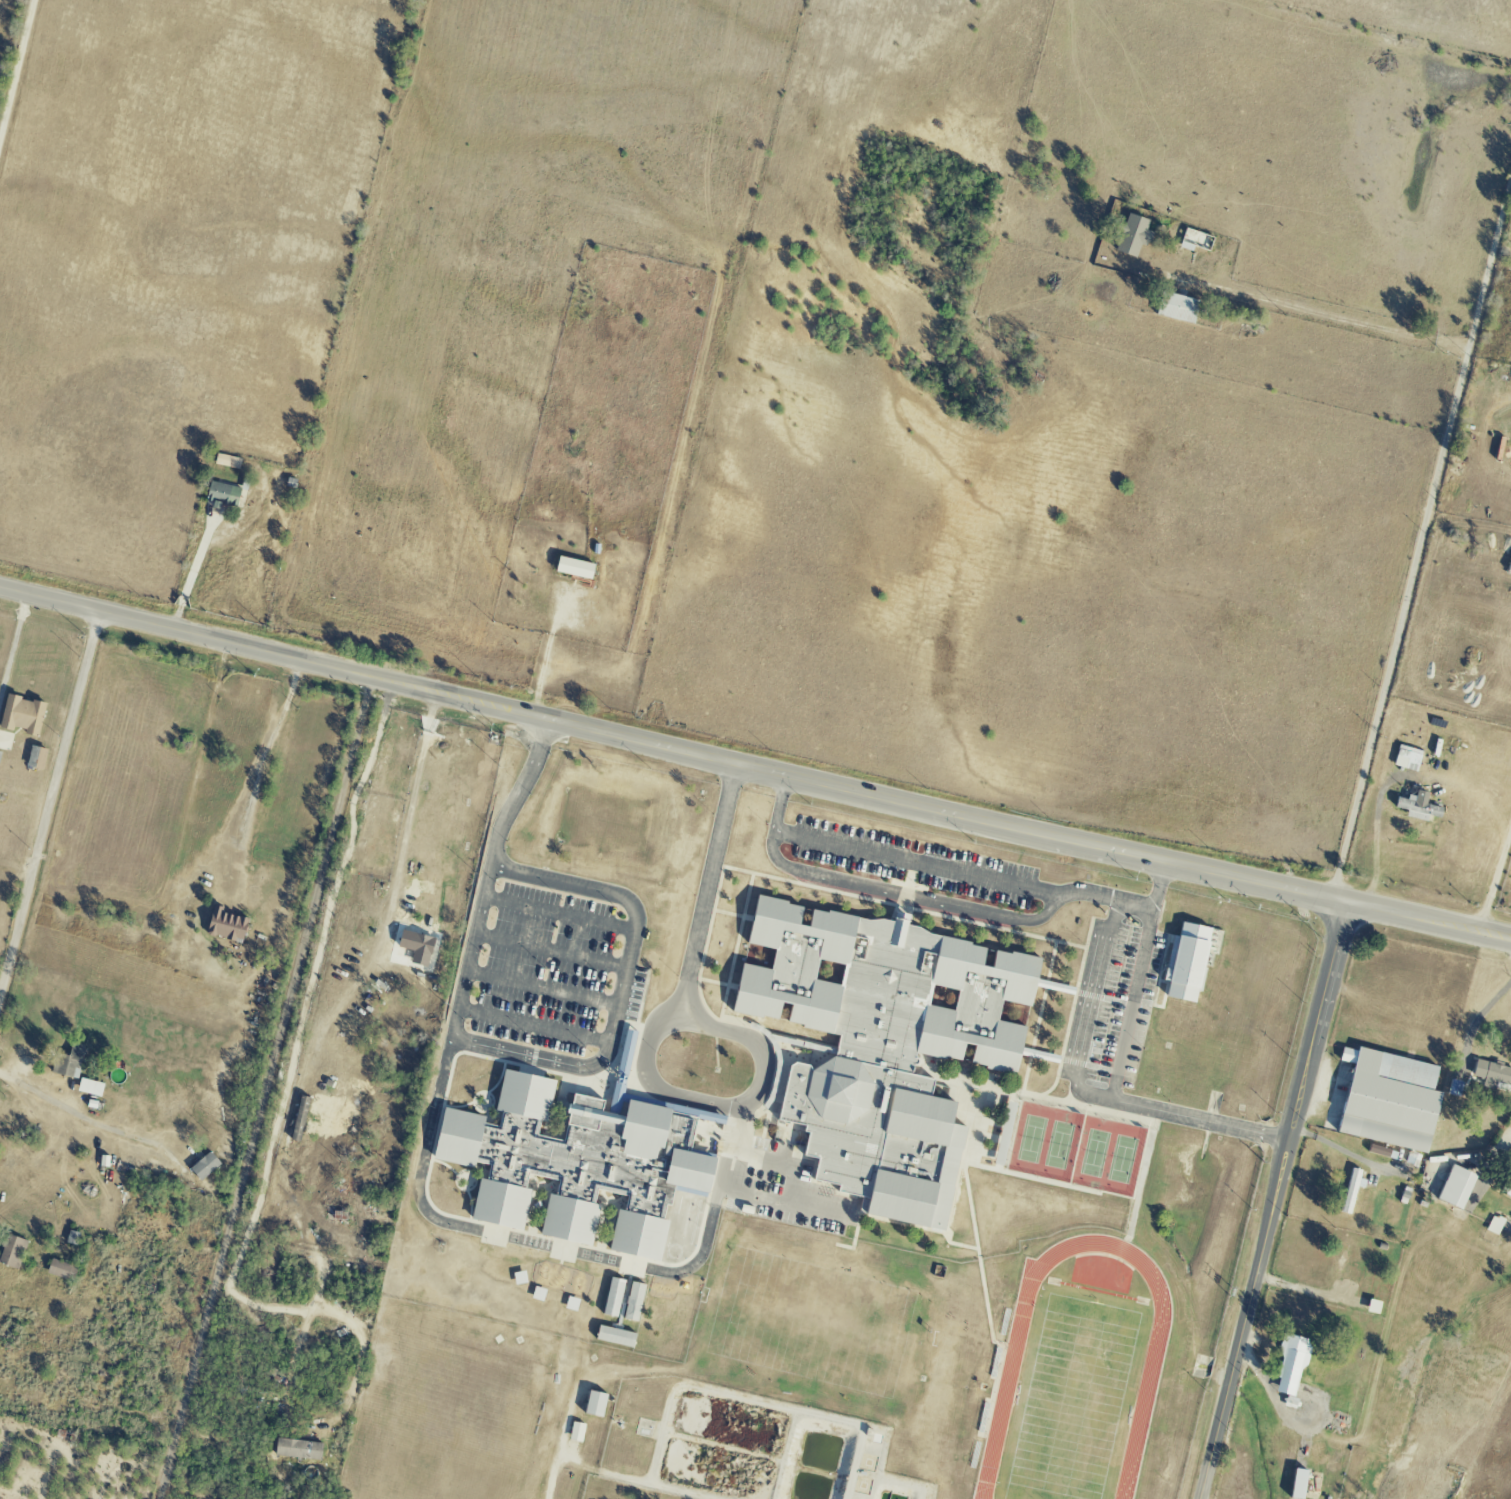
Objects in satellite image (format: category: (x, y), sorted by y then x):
road: (17, 70)
building: (1131, 236)
building: (1176, 308)
road: (1310, 312)
building: (227, 461)
building: (221, 494)
road: (1422, 537)
building: (574, 568)
road: (191, 573)
road: (217, 639)
road: (13, 646)
building: (21, 715)
road: (545, 732)
building: (36, 758)
road: (264, 764)
road: (733, 776)
road: (512, 803)
building: (1416, 808)
road: (49, 809)
road: (972, 819)
road: (936, 867)
road: (1494, 879)
road: (908, 893)
road: (559, 914)
building: (226, 925)
building: (1214, 940)
building: (416, 947)
road: (550, 951)
building: (1187, 962)
road: (542, 989)
road: (1090, 1008)
road: (1482, 1011)
road: (534, 1026)
building: (882, 1046)
building: (626, 1051)
building: (68, 1062)
road: (592, 1065)
road: (1116, 1070)
building: (1492, 1073)
road: (658, 1084)
road: (263, 1087)
building: (89, 1088)
building: (1388, 1100)
road: (67, 1117)
building: (299, 1119)
building: (1003, 1134)
road: (1334, 1143)
road: (282, 1151)
road: (1472, 1154)
building: (576, 1164)
building: (204, 1166)
building: (1455, 1187)
building: (1350, 1191)
building: (1508, 1193)
road: (782, 1196)
road: (1275, 1200)
road: (711, 1222)
building: (1496, 1222)
building: (12, 1252)
building: (61, 1271)
building: (613, 1298)
building: (633, 1302)
building: (614, 1337)
building: (1290, 1366)
building: (594, 1404)
building: (576, 1432)
building: (297, 1450)
road: (551, 1471)

